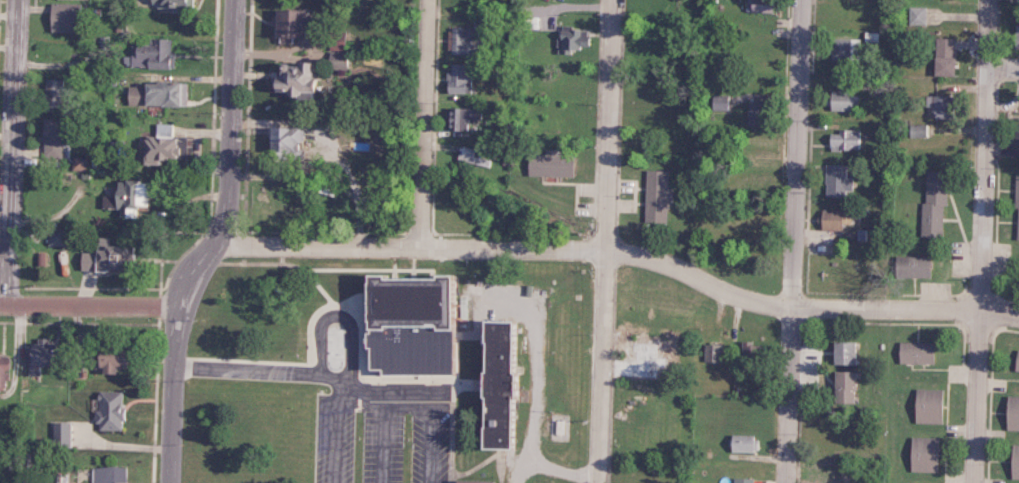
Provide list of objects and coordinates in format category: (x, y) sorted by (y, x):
building: (176, 3)
building: (916, 15)
building: (71, 17)
building: (299, 23)
building: (1015, 36)
building: (570, 38)
building: (458, 41)
building: (339, 45)
building: (836, 47)
building: (154, 54)
building: (943, 56)
building: (342, 59)
road: (1002, 67)
building: (301, 76)
building: (456, 78)
building: (57, 90)
building: (161, 93)
building: (842, 100)
building: (718, 101)
building: (935, 105)
building: (461, 119)
road: (423, 121)
building: (916, 130)
building: (56, 137)
building: (844, 139)
building: (1014, 139)
building: (295, 140)
building: (169, 144)
road: (11, 149)
building: (83, 163)
building: (549, 164)
building: (836, 181)
building: (654, 196)
building: (134, 197)
building: (387, 202)
building: (1016, 203)
building: (932, 206)
building: (832, 219)
road: (606, 241)
road: (792, 241)
road: (980, 241)
road: (211, 244)
road: (622, 246)
building: (120, 258)
building: (92, 260)
building: (910, 266)
road: (90, 300)
road: (340, 310)
building: (425, 323)
building: (750, 352)
building: (913, 352)
building: (711, 353)
building: (839, 353)
building: (46, 354)
building: (124, 358)
building: (1015, 362)
building: (6, 368)
road: (327, 370)
building: (515, 384)
building: (840, 387)
road: (537, 396)
building: (923, 400)
building: (1011, 409)
road: (433, 410)
building: (114, 411)
parking lot: (401, 427)
building: (63, 432)
building: (748, 442)
building: (919, 449)
building: (1014, 457)
road: (560, 470)
building: (111, 474)
building: (747, 480)
building: (483, 481)

